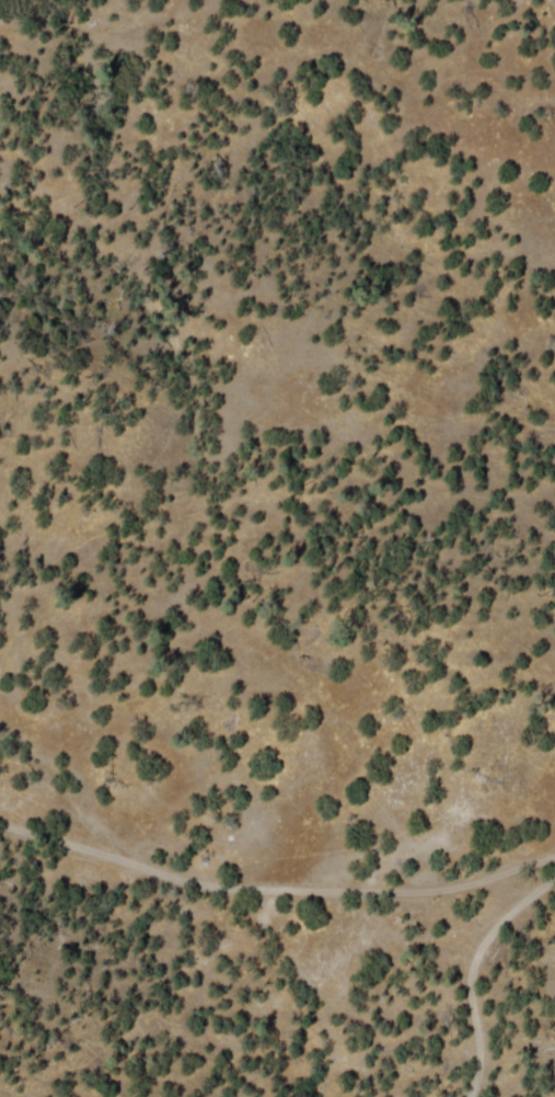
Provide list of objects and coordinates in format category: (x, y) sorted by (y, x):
road: (263, 844)
road: (339, 953)

